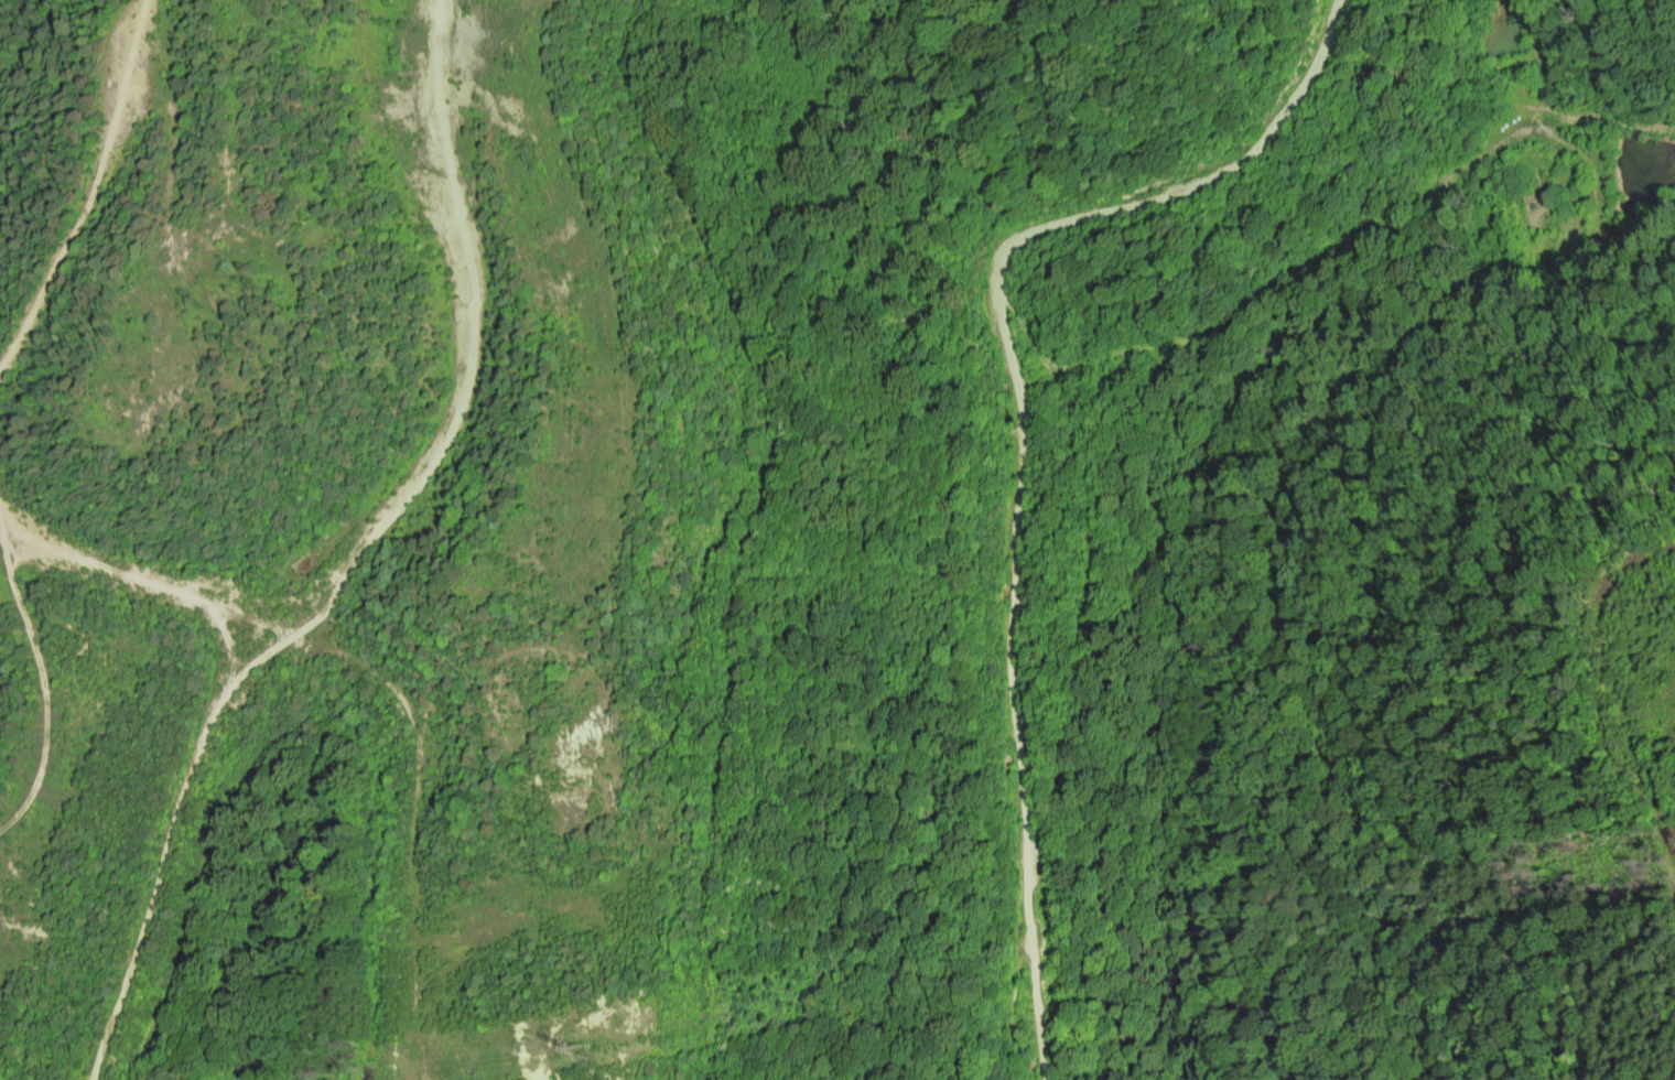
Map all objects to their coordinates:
power tower: (586, 1051)

